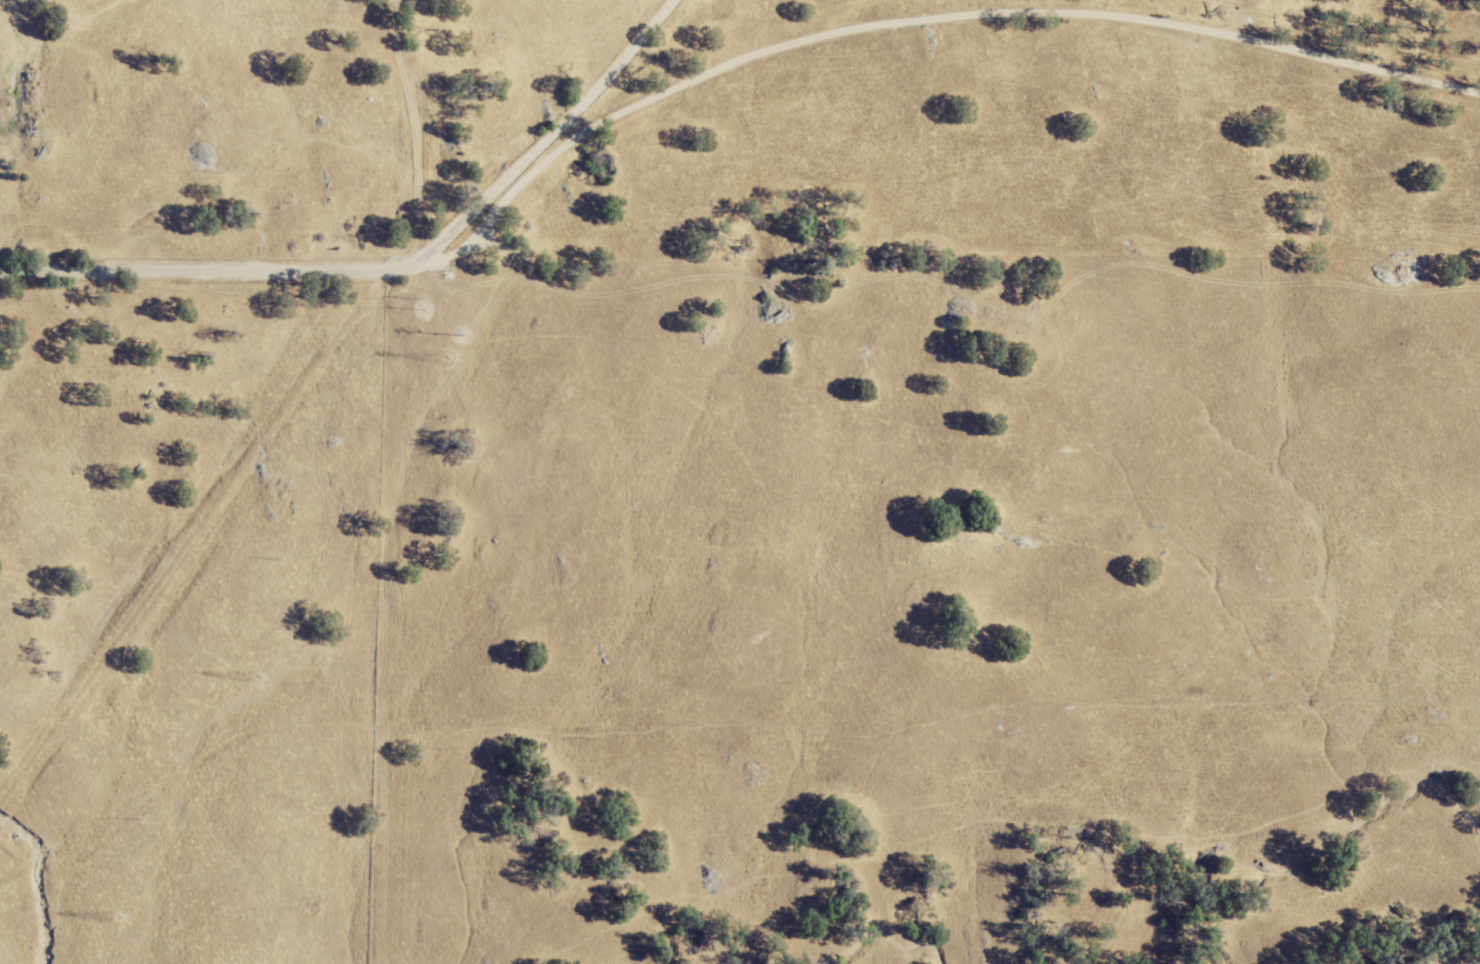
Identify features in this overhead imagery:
road: (1023, 5)
road: (392, 270)
power tower: (461, 336)
power tower: (263, 678)
power tower: (126, 919)

